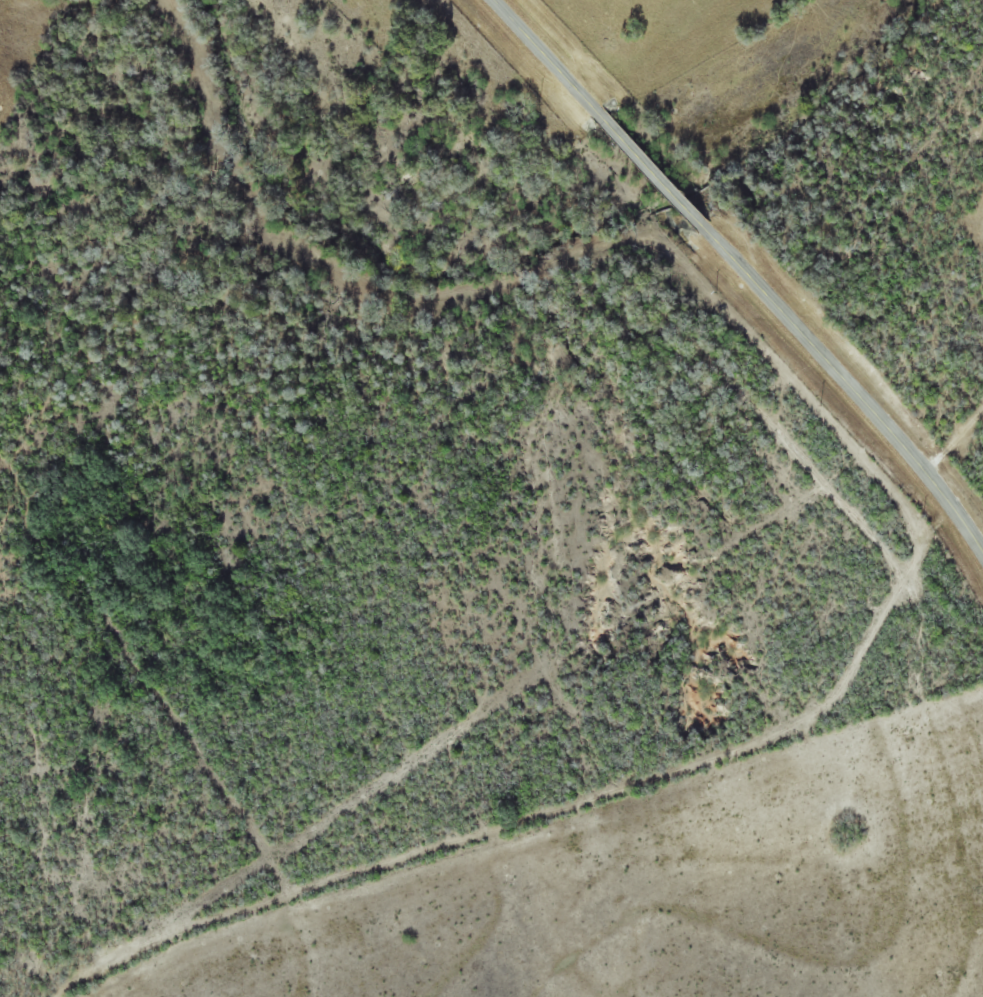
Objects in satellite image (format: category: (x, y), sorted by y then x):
road: (749, 269)
road: (965, 489)

